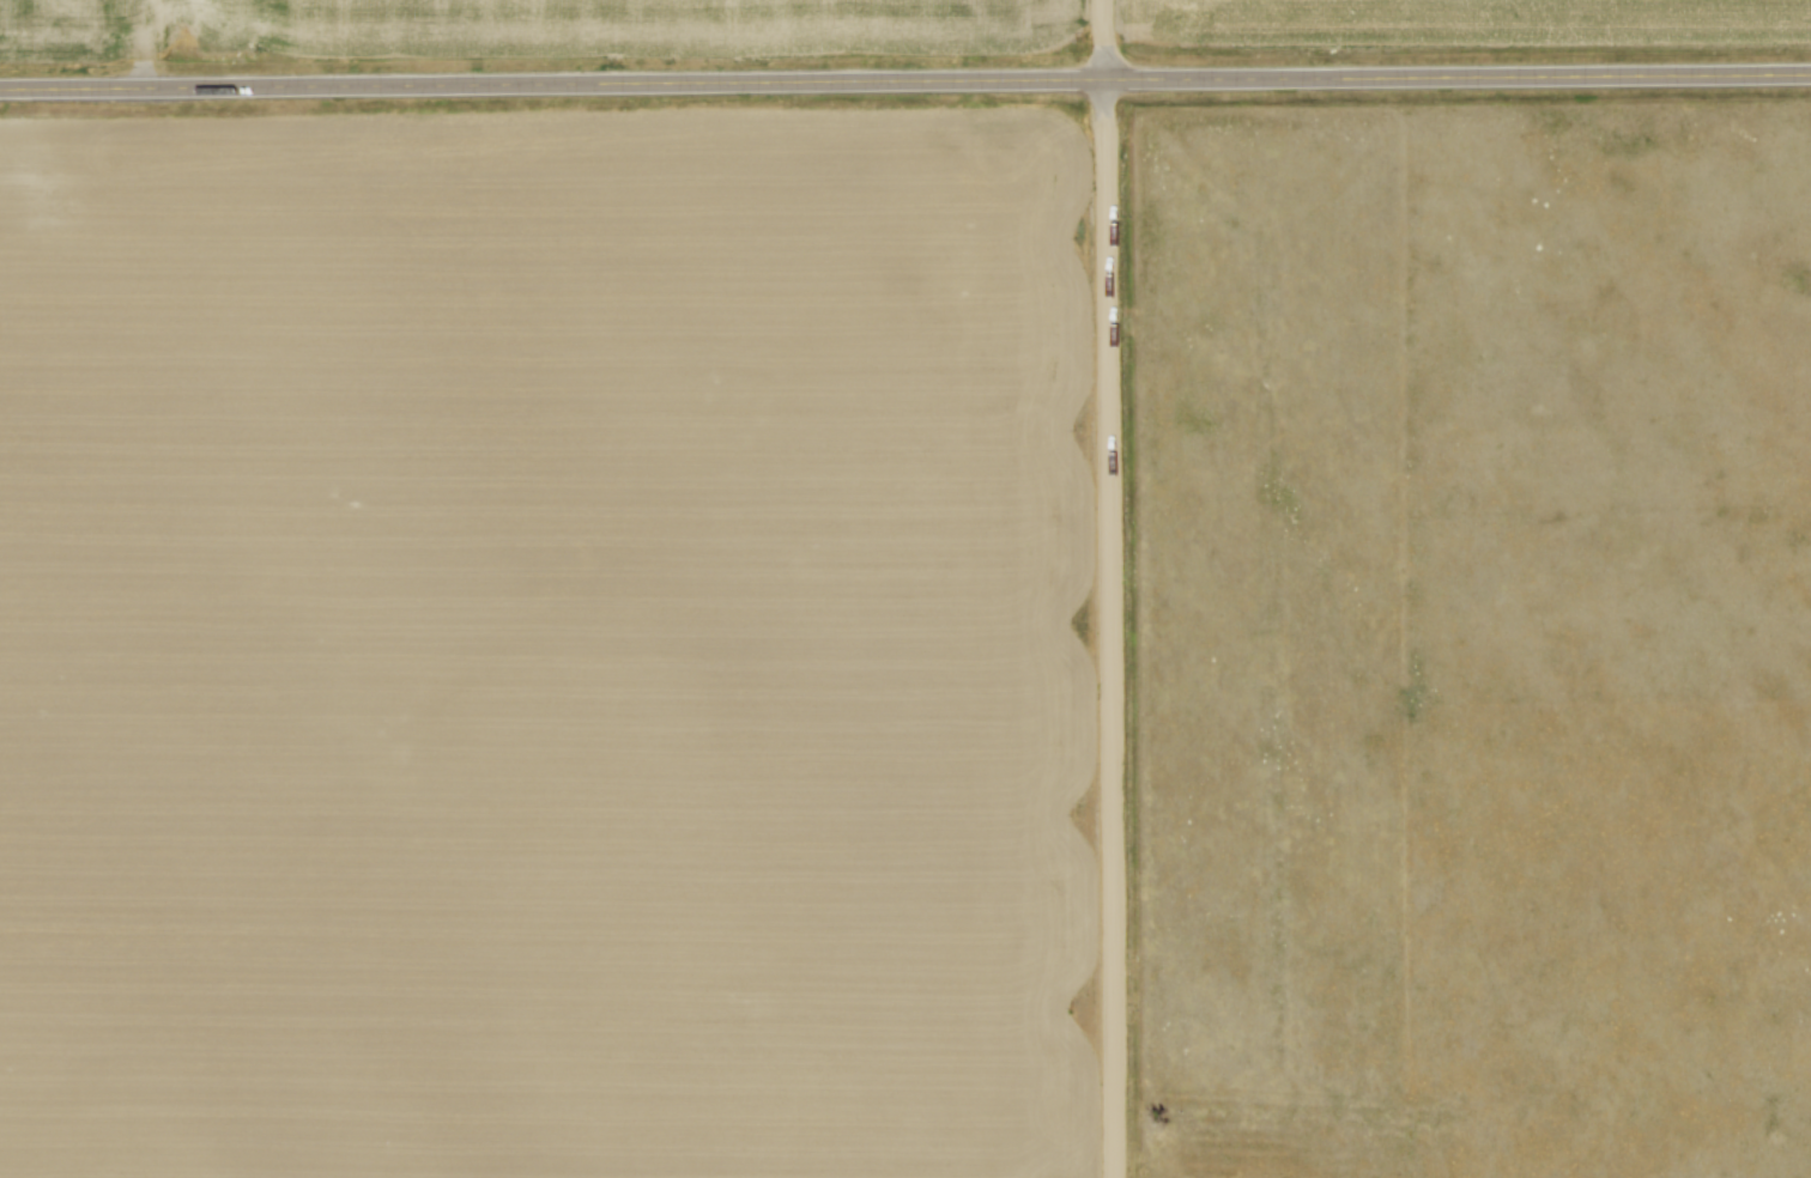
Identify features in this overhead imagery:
crop: (1472, 25)
crop: (522, 28)
road: (904, 80)
road: (1109, 589)
crop: (546, 645)

